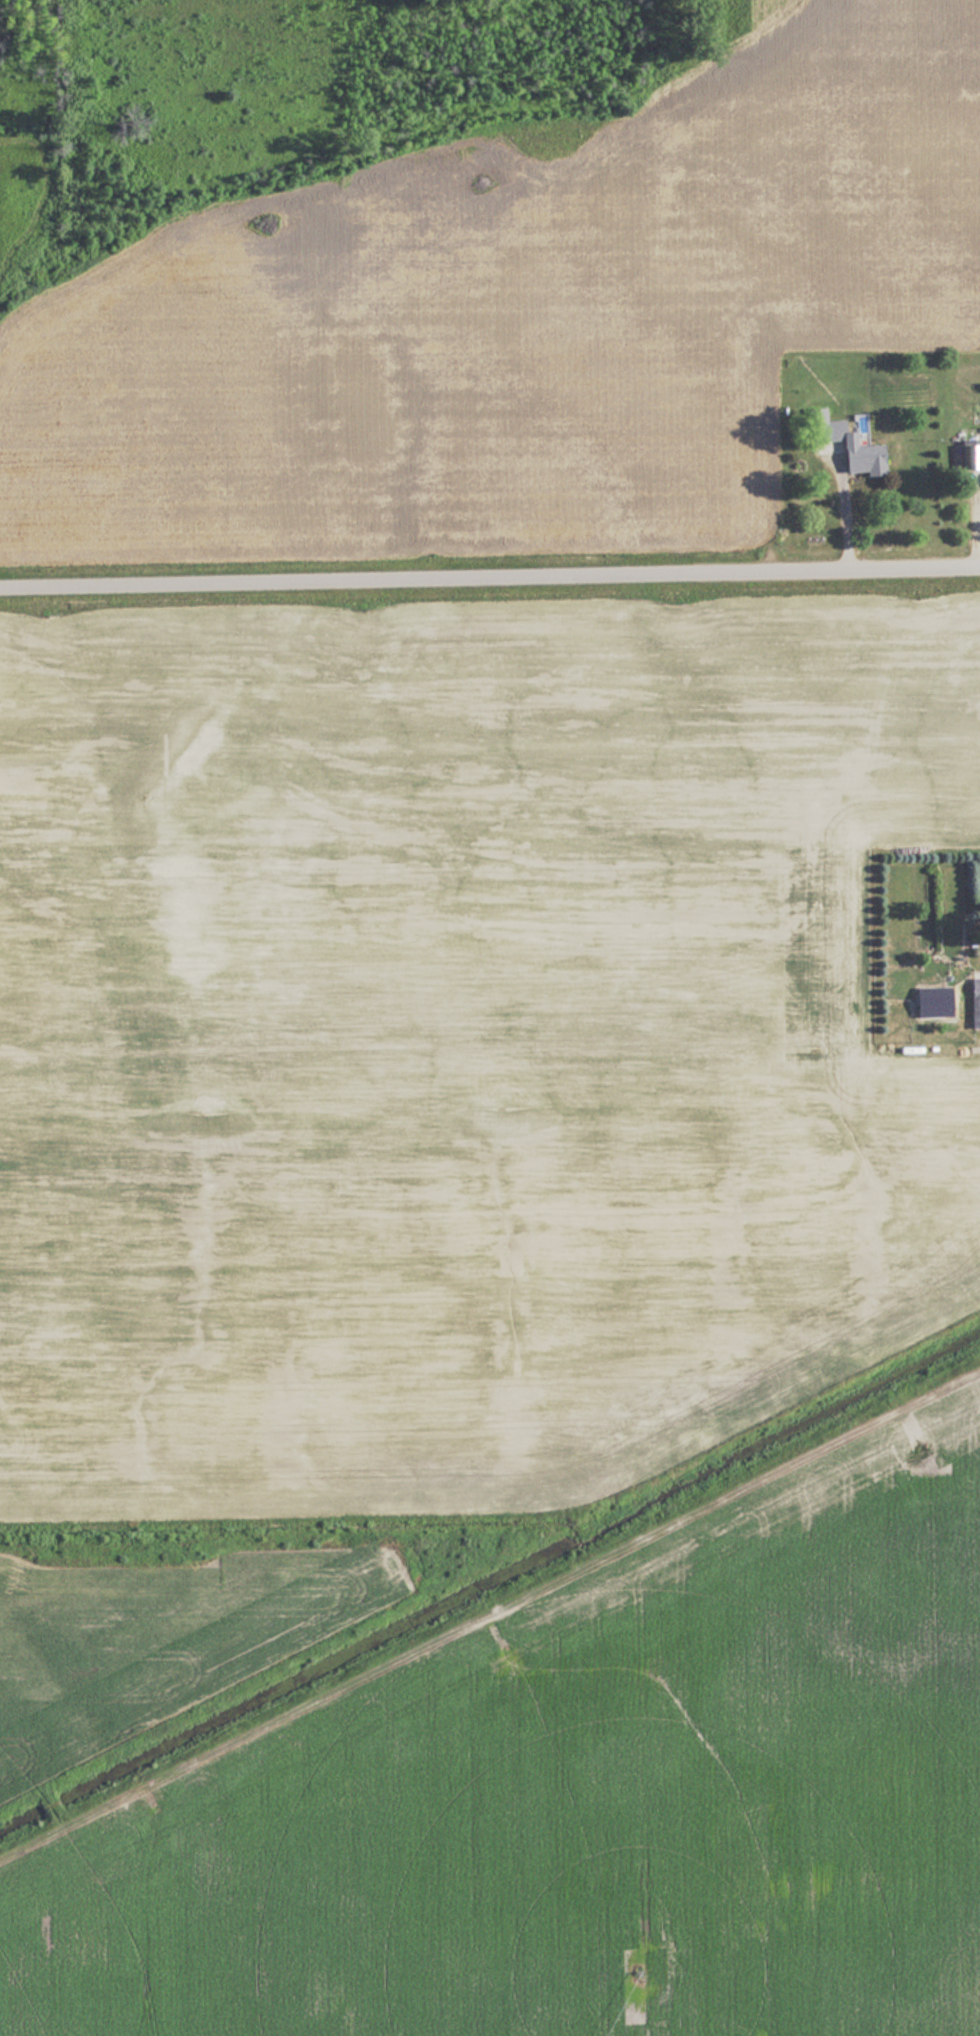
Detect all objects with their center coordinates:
building: (843, 444)
road: (843, 520)
road: (490, 581)
building: (973, 1002)

